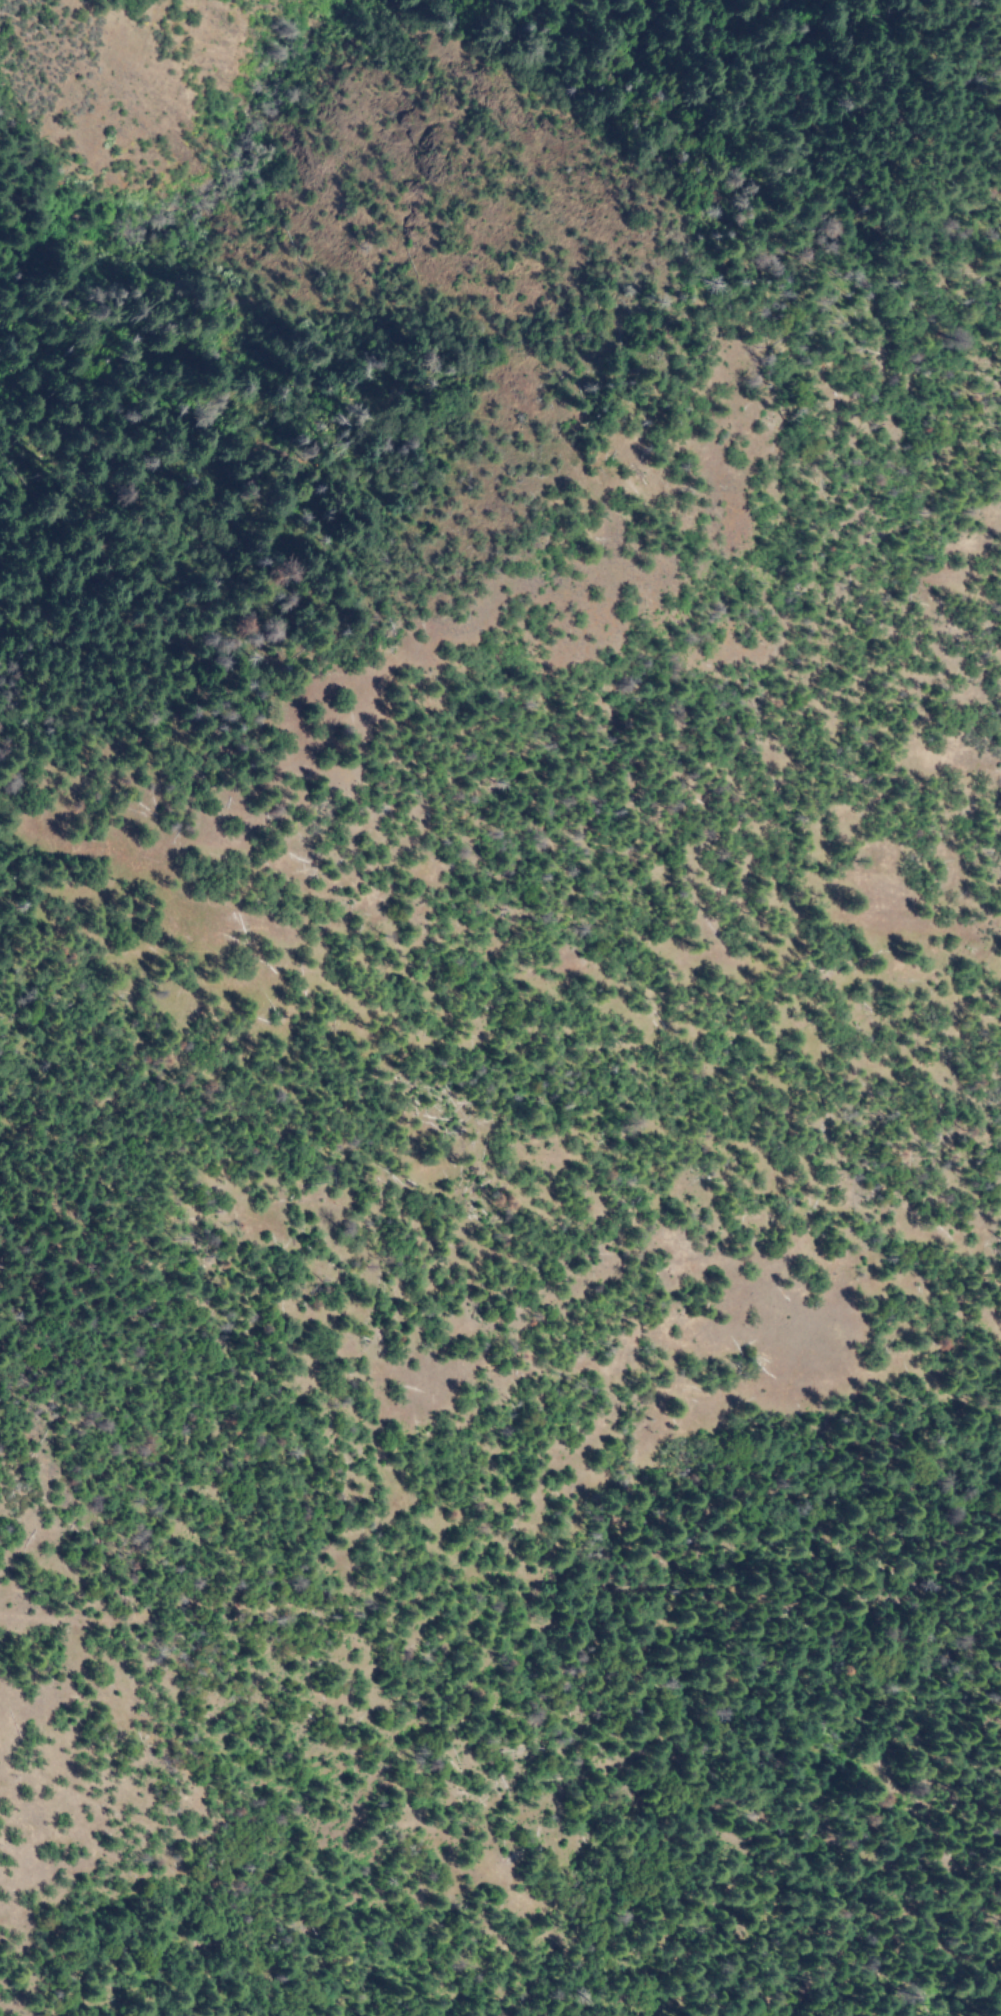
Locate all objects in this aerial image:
road: (990, 2008)

